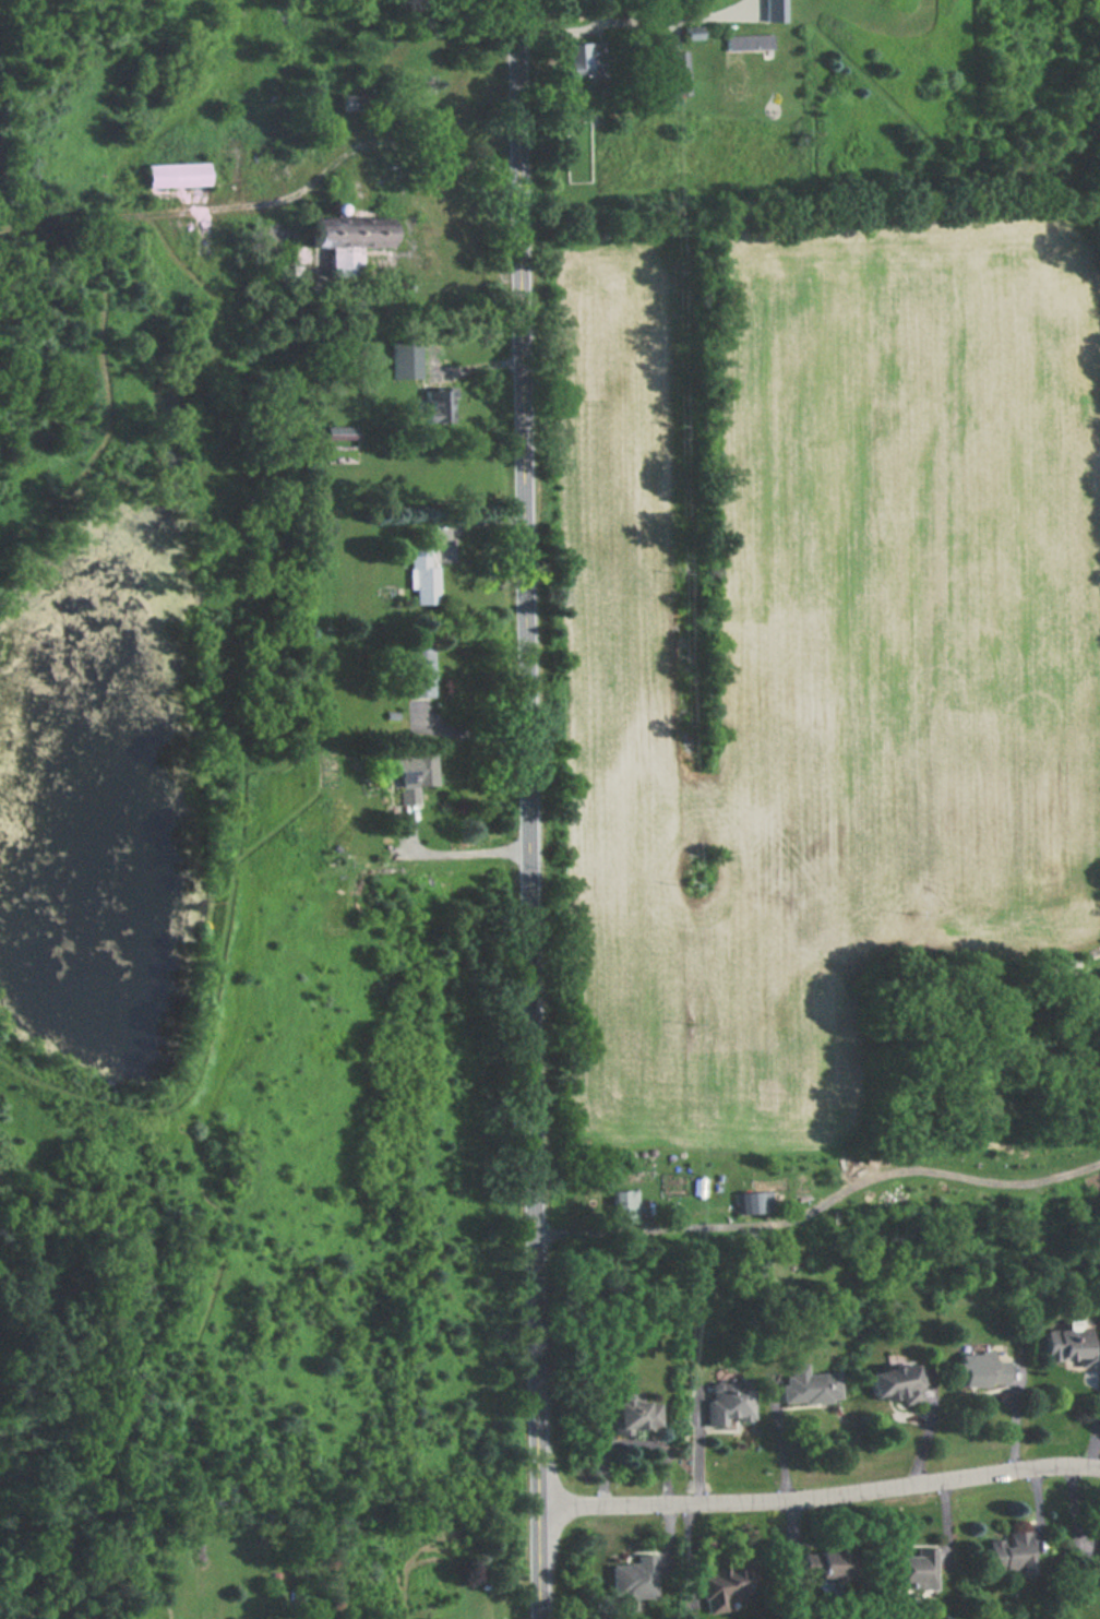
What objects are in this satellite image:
building: (775, 11)
road: (634, 20)
building: (753, 41)
building: (414, 55)
building: (584, 61)
building: (351, 110)
building: (175, 176)
road: (271, 201)
road: (407, 211)
building: (347, 241)
road: (402, 252)
building: (406, 358)
building: (438, 406)
building: (423, 578)
building: (421, 671)
road: (469, 727)
building: (416, 776)
road: (526, 809)
road: (450, 854)
road: (818, 1200)
building: (751, 1203)
building: (624, 1207)
building: (1069, 1346)
building: (982, 1367)
building: (895, 1383)
building: (810, 1385)
building: (729, 1401)
building: (634, 1414)
road: (818, 1495)
building: (1011, 1553)
building: (829, 1568)
building: (913, 1569)
building: (1099, 1574)
building: (634, 1579)

